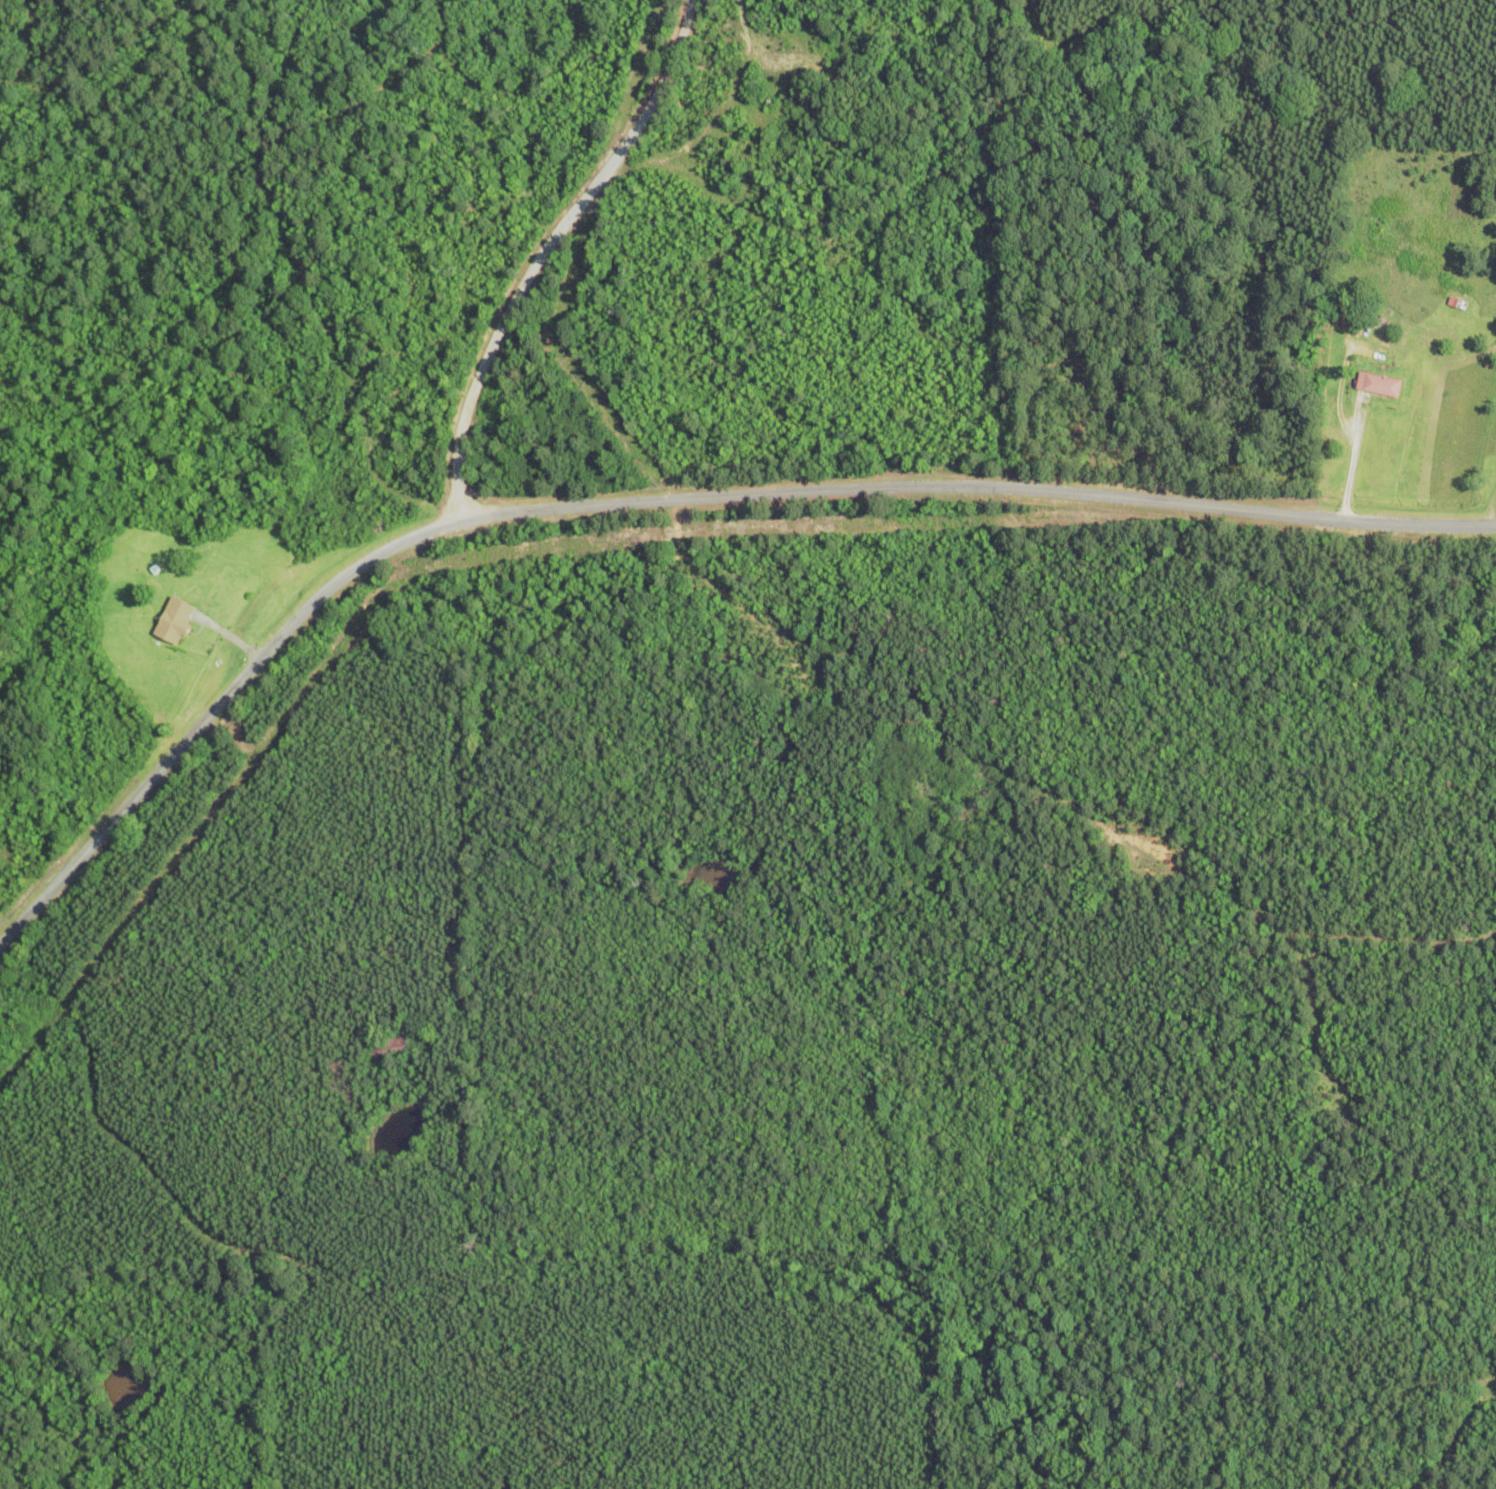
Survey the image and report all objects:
road: (545, 248)
building: (1375, 384)
road: (661, 498)
building: (172, 615)

